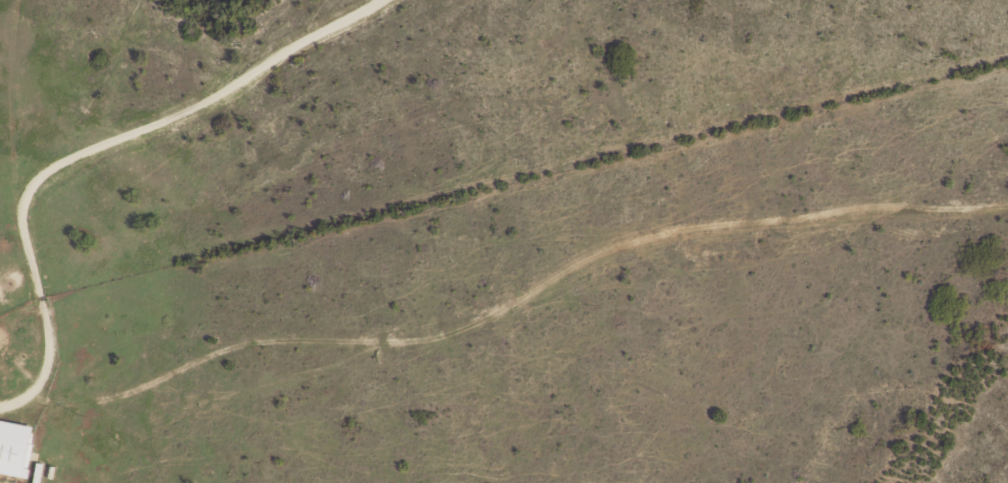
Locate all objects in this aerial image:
road: (92, 148)
building: (16, 448)

